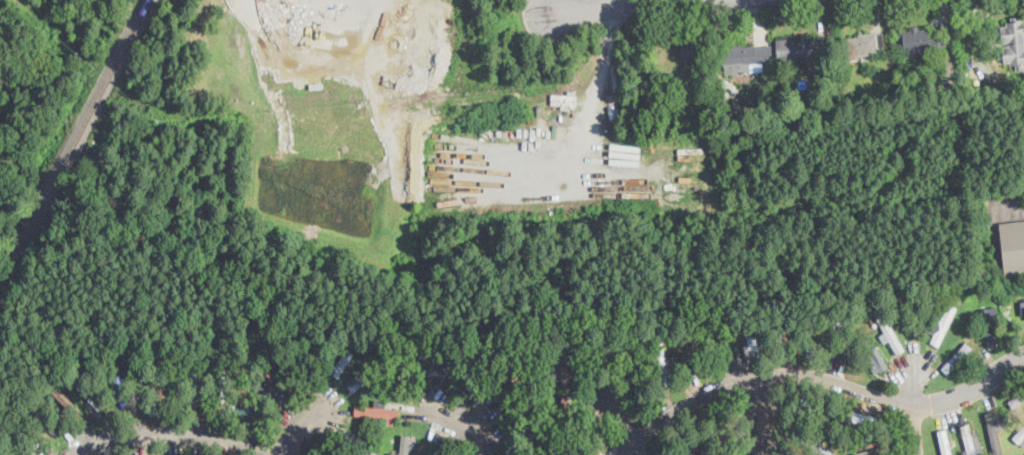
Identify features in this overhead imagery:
road: (613, 2)
road: (609, 4)
building: (920, 43)
building: (1014, 43)
building: (865, 45)
building: (802, 49)
building: (693, 50)
building: (747, 58)
building: (874, 67)
road: (601, 68)
building: (316, 84)
building: (942, 89)
building: (767, 92)
building: (725, 96)
building: (737, 99)
building: (734, 110)
building: (691, 112)
railway: (74, 143)
road: (1015, 211)
building: (992, 216)
building: (1011, 247)
building: (1004, 289)
building: (1022, 308)
building: (908, 319)
building: (989, 322)
building: (943, 324)
building: (969, 325)
building: (776, 331)
building: (973, 331)
building: (890, 333)
building: (652, 336)
building: (726, 337)
building: (755, 340)
building: (844, 341)
building: (810, 344)
building: (477, 345)
building: (694, 348)
building: (569, 351)
building: (619, 351)
building: (876, 354)
building: (956, 358)
building: (342, 361)
building: (417, 367)
building: (555, 368)
building: (665, 368)
building: (446, 369)
building: (476, 370)
building: (365, 376)
road: (815, 377)
road: (910, 378)
building: (499, 382)
building: (193, 386)
building: (221, 386)
building: (640, 386)
building: (262, 388)
building: (122, 394)
building: (148, 395)
building: (91, 396)
building: (1016, 400)
building: (523, 403)
building: (68, 404)
road: (612, 409)
building: (255, 411)
building: (377, 412)
building: (814, 412)
road: (757, 414)
building: (566, 416)
building: (867, 418)
building: (530, 419)
building: (718, 419)
building: (44, 421)
road: (462, 423)
road: (304, 428)
road: (912, 429)
building: (993, 433)
road: (166, 435)
building: (731, 435)
building: (1019, 435)
building: (24, 436)
building: (591, 440)
building: (968, 441)
building: (518, 442)
building: (944, 442)
building: (358, 443)
building: (810, 443)
building: (329, 445)
building: (405, 445)
building: (691, 446)
road: (634, 448)
building: (324, 452)
building: (437, 452)
building: (661, 452)
building: (871, 452)
building: (546, 453)

